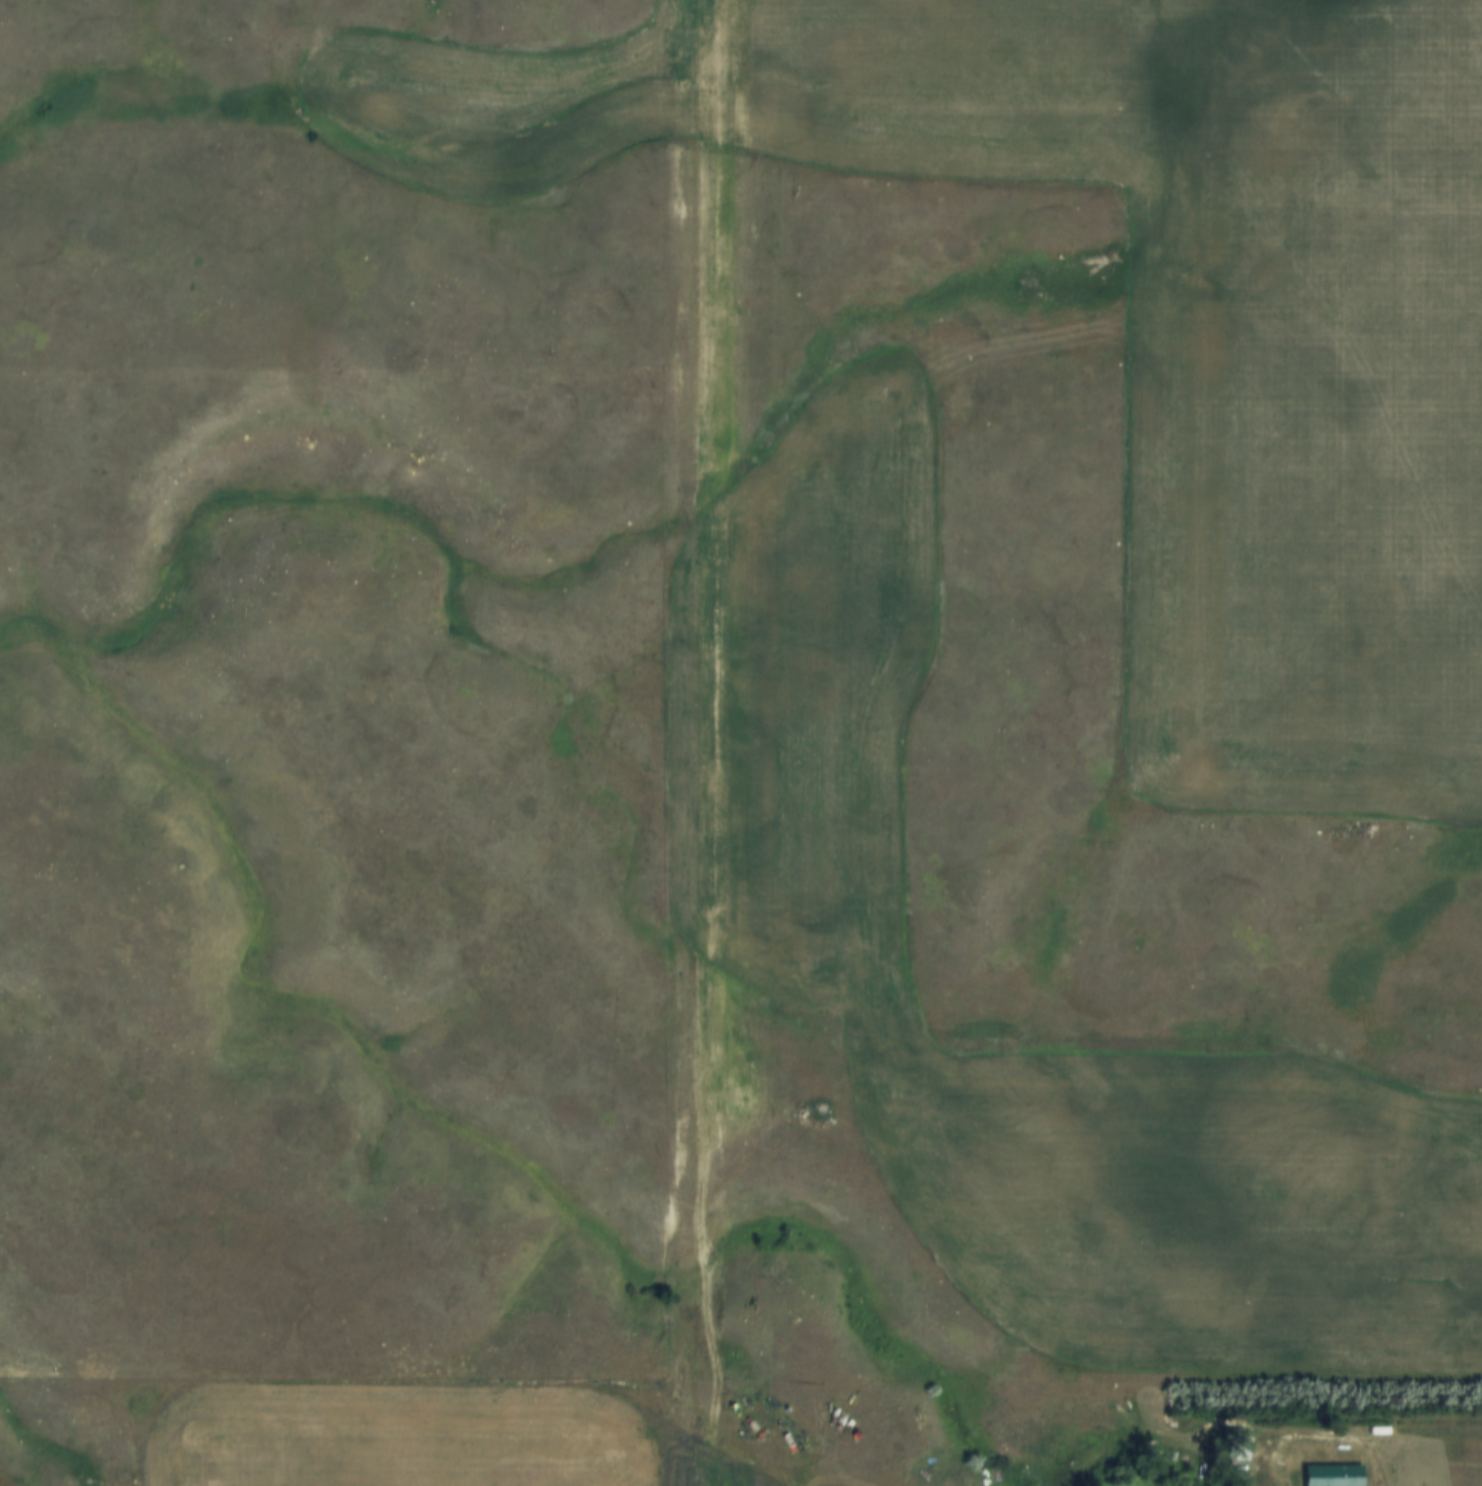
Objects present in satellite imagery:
building: (1237, 1445)
building: (1332, 1474)

